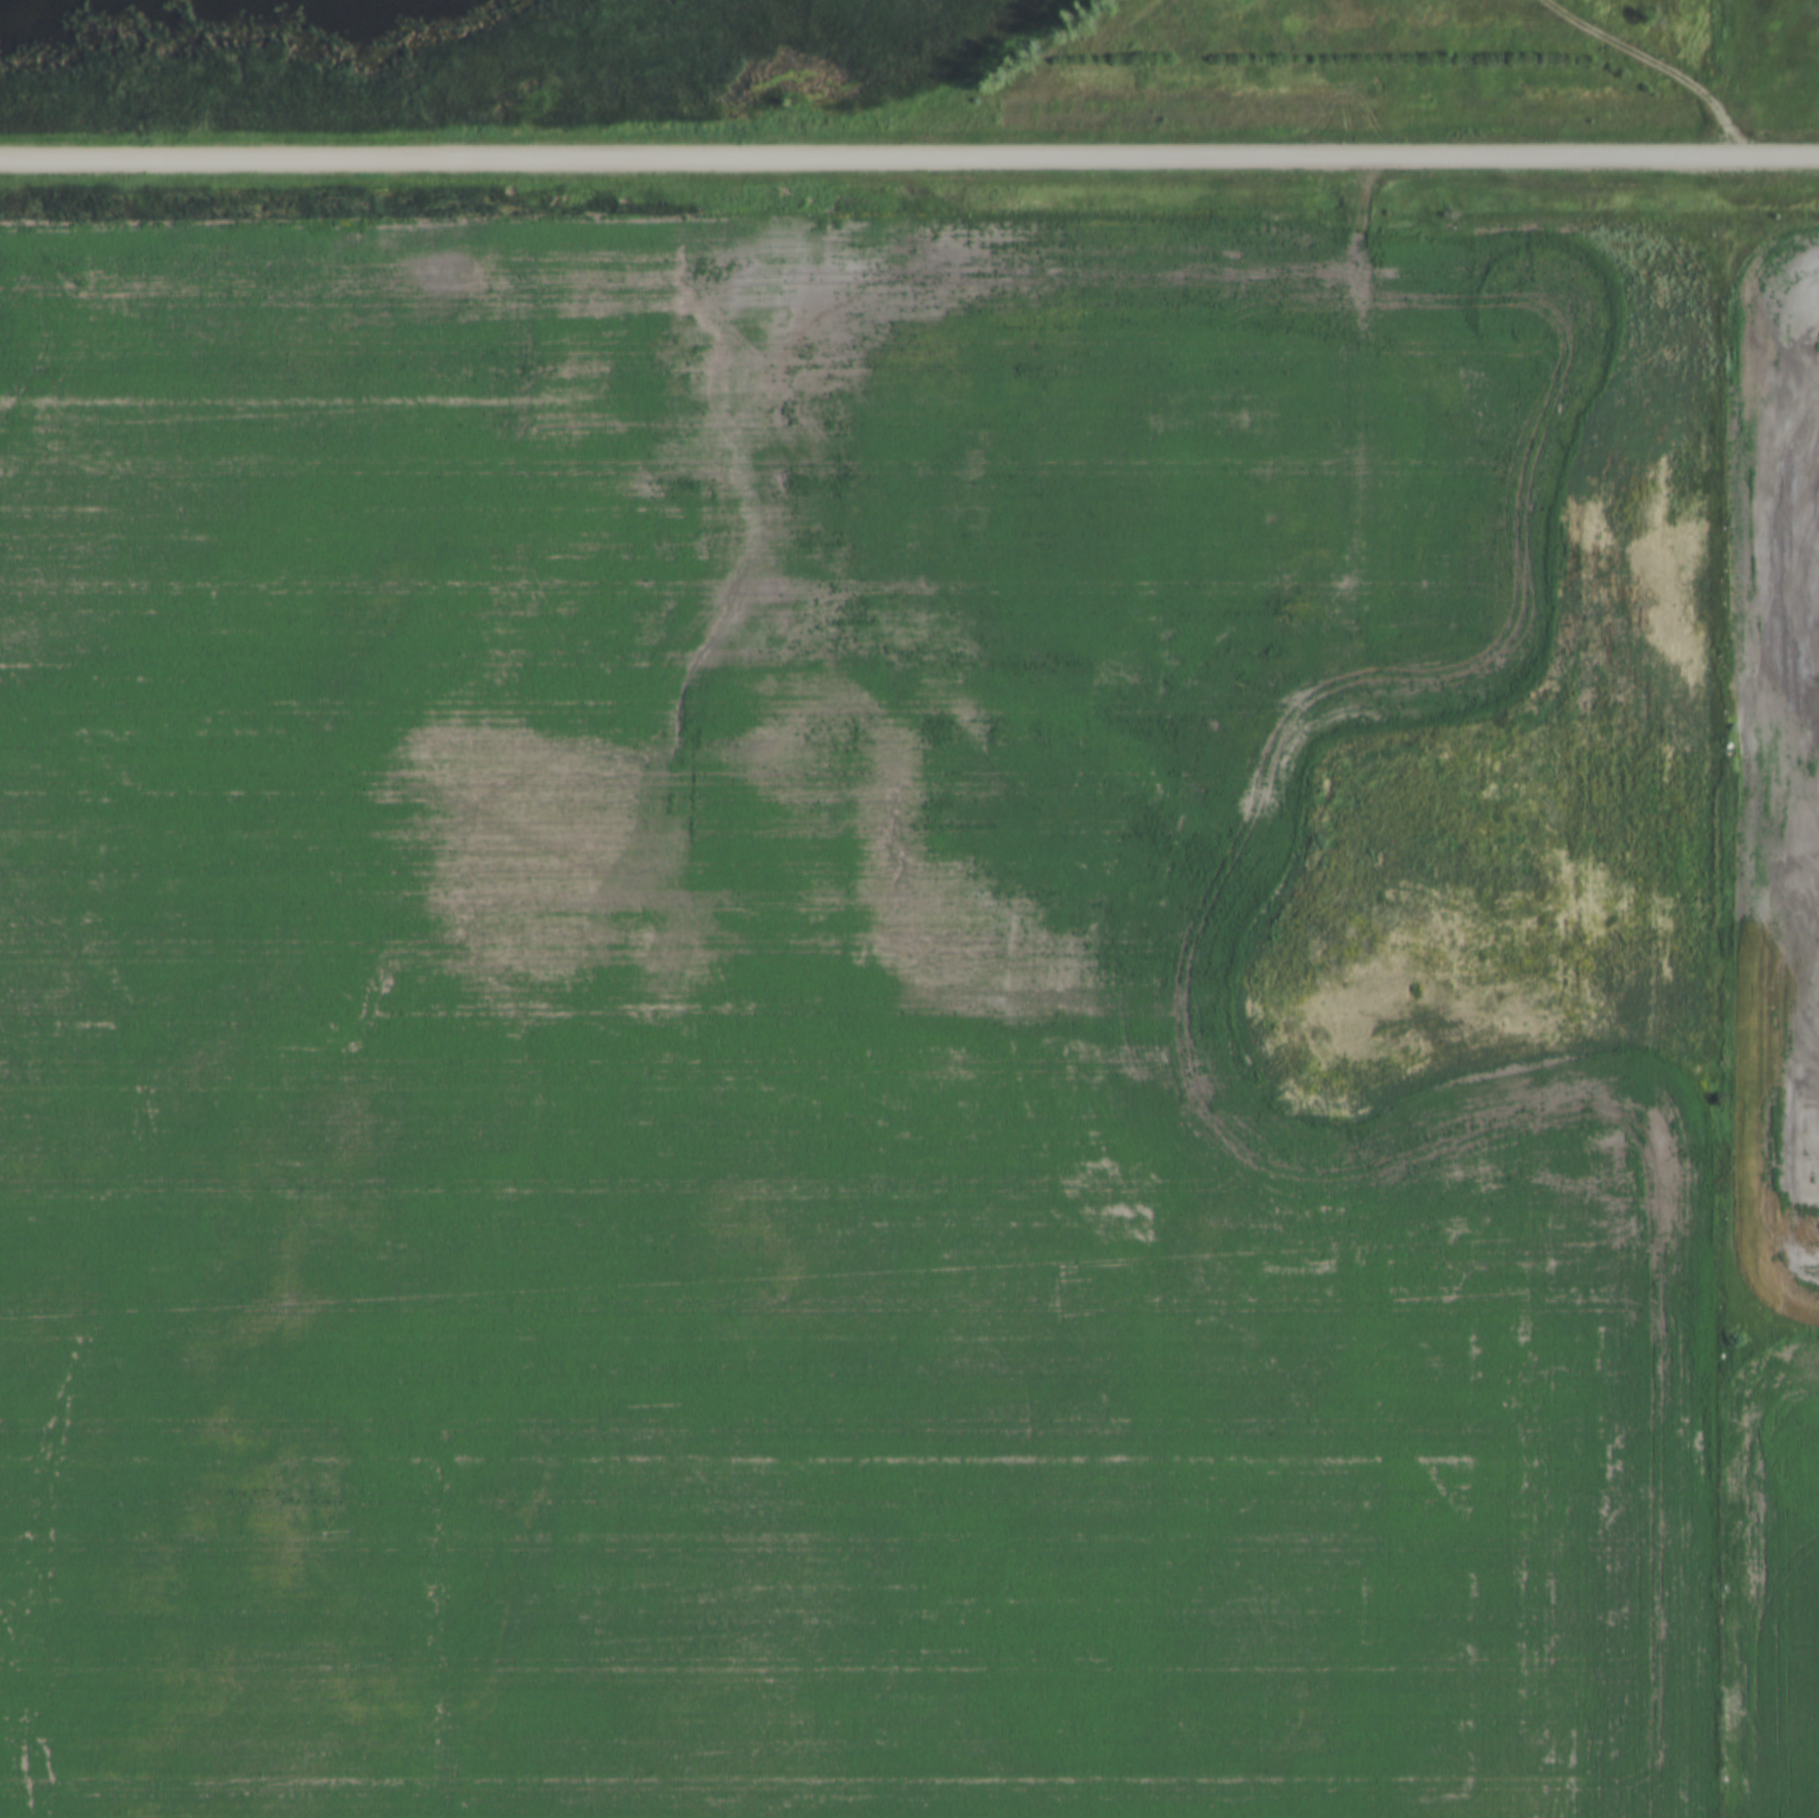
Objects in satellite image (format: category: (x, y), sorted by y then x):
road: (1657, 64)
road: (909, 158)

